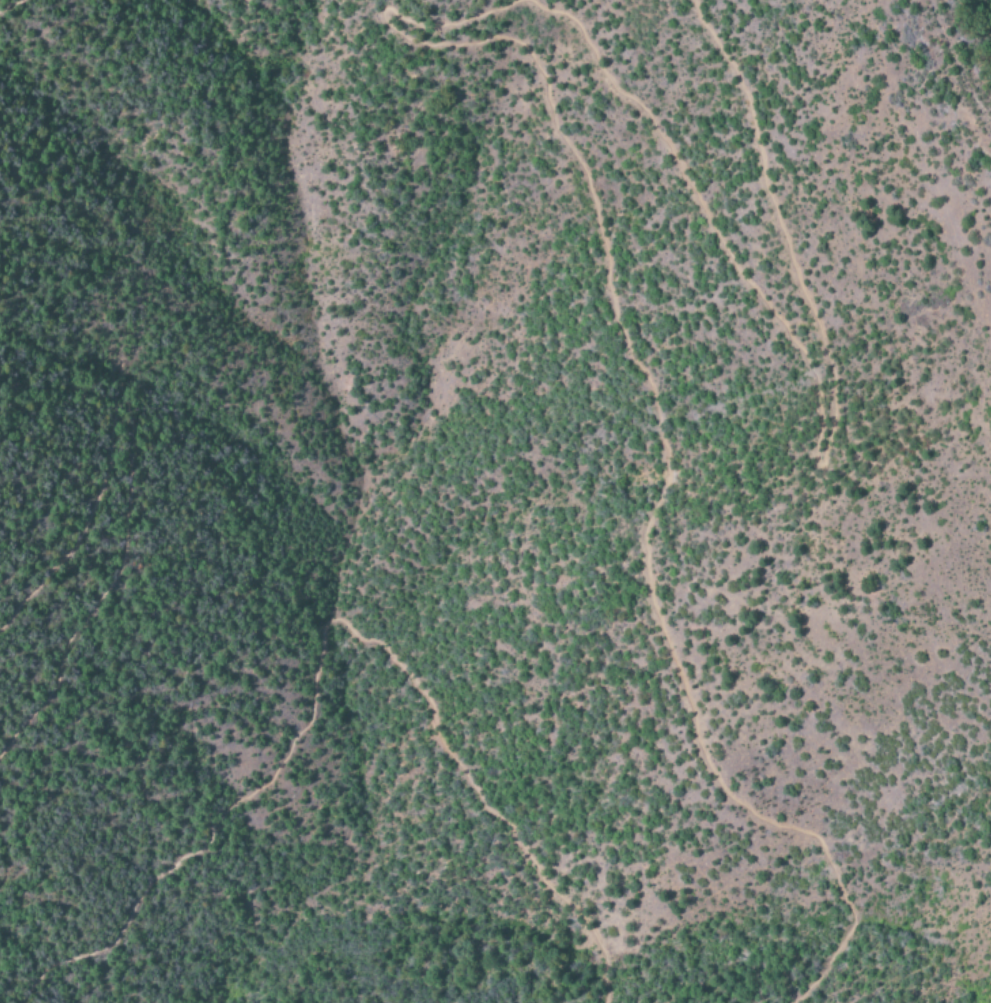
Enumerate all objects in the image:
road: (4, 2)
road: (657, 416)
road: (820, 421)
road: (125, 426)
road: (320, 636)

